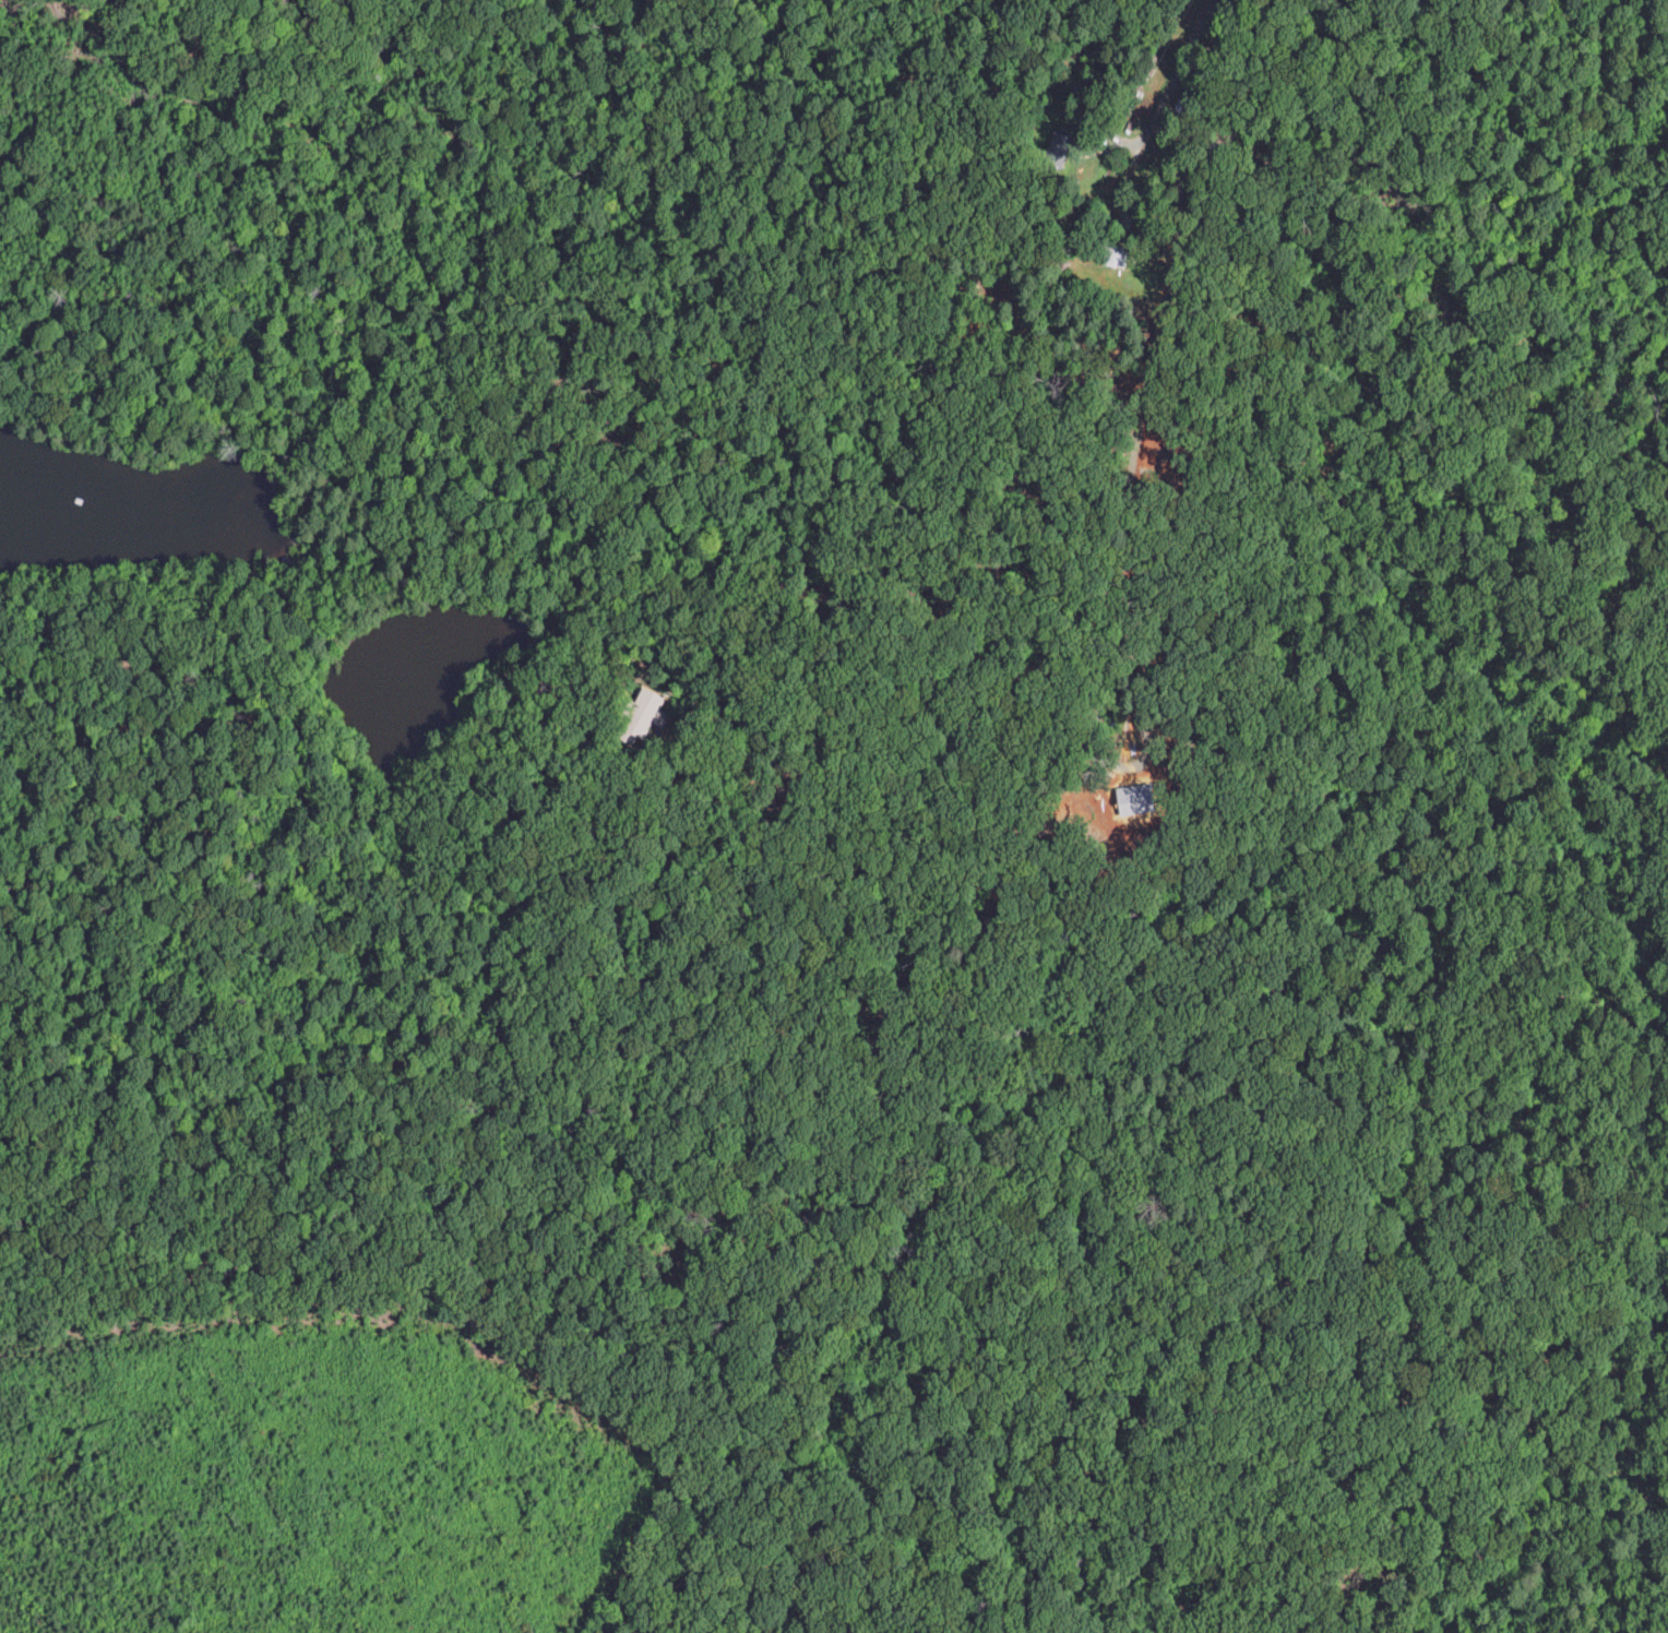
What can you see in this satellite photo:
road: (1164, 106)
road: (1125, 139)
building: (1063, 148)
building: (1115, 255)
road: (1169, 300)
road: (769, 339)
building: (648, 713)
road: (956, 787)

